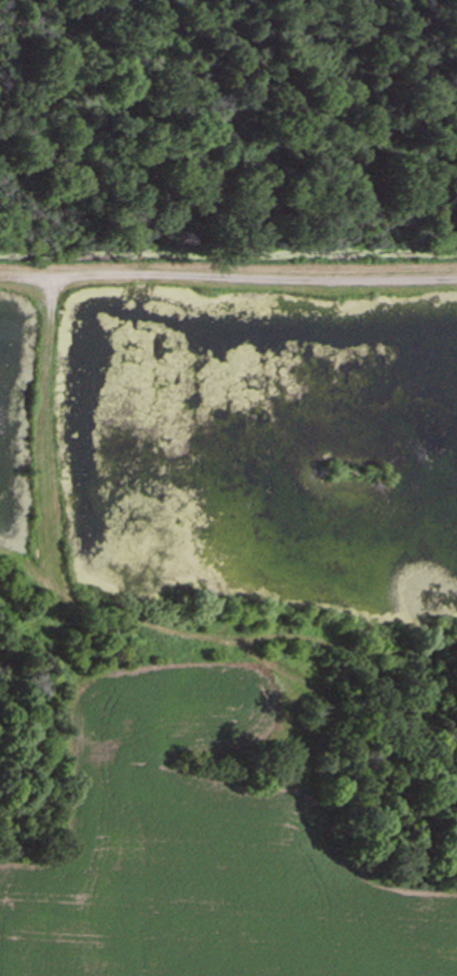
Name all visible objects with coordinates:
crop: (205, 851)

